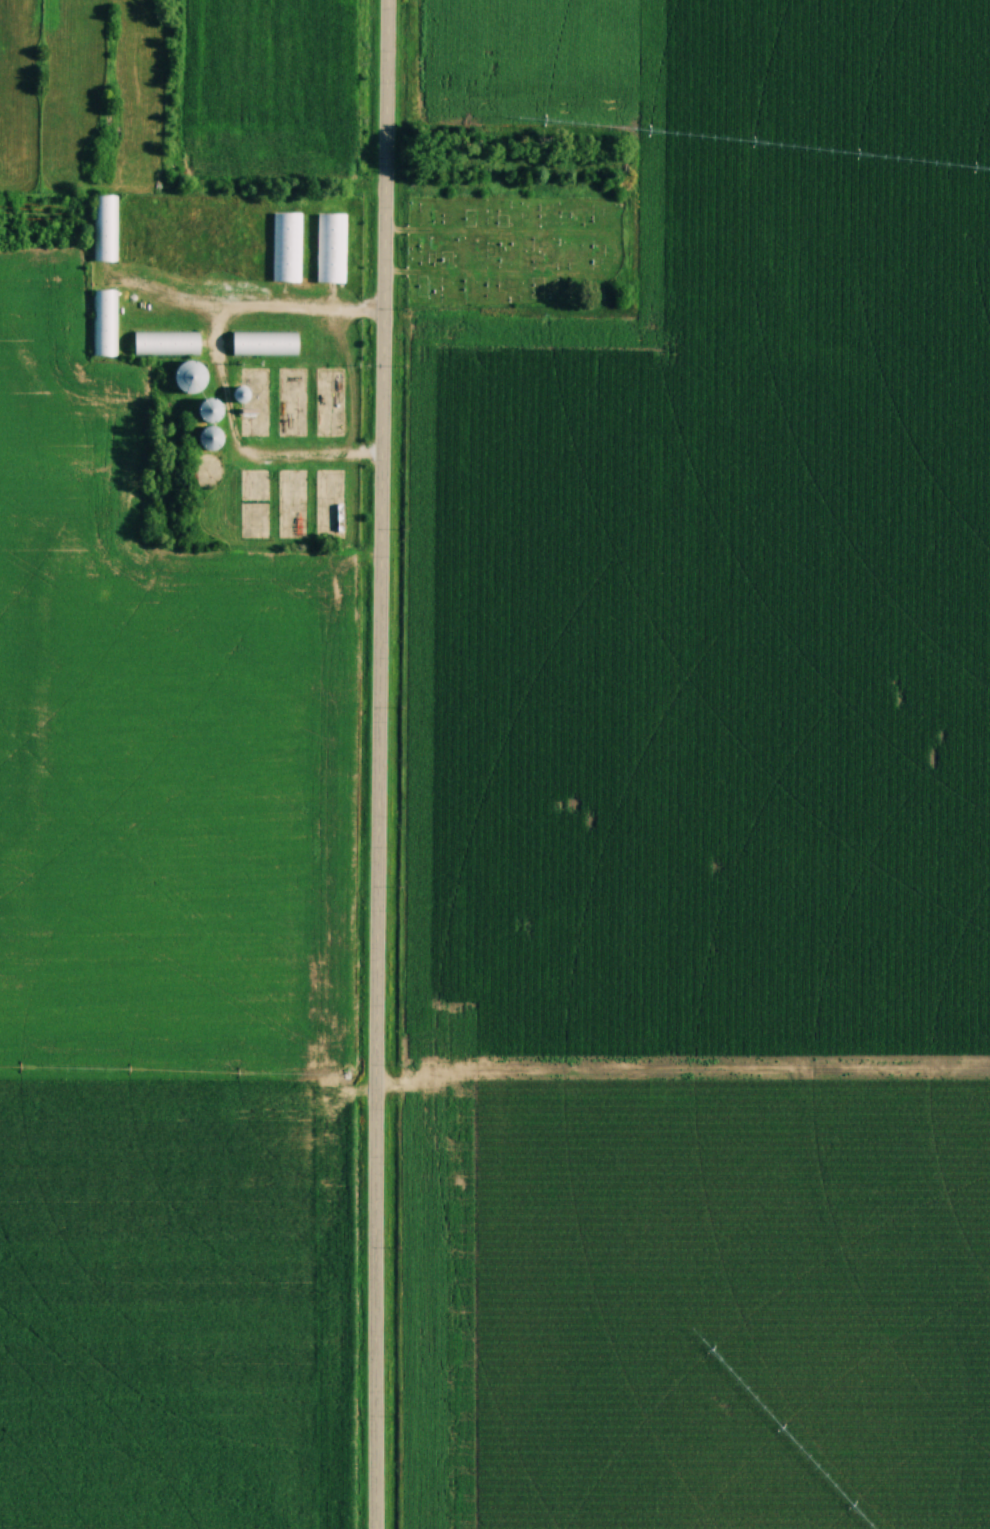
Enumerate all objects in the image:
crop: (269, 90)
building: (105, 227)
building: (286, 245)
building: (330, 246)
road: (249, 310)
building: (103, 322)
building: (167, 342)
building: (267, 344)
building: (190, 378)
building: (212, 411)
building: (212, 439)
road: (383, 764)
crop: (711, 793)
crop: (162, 978)

